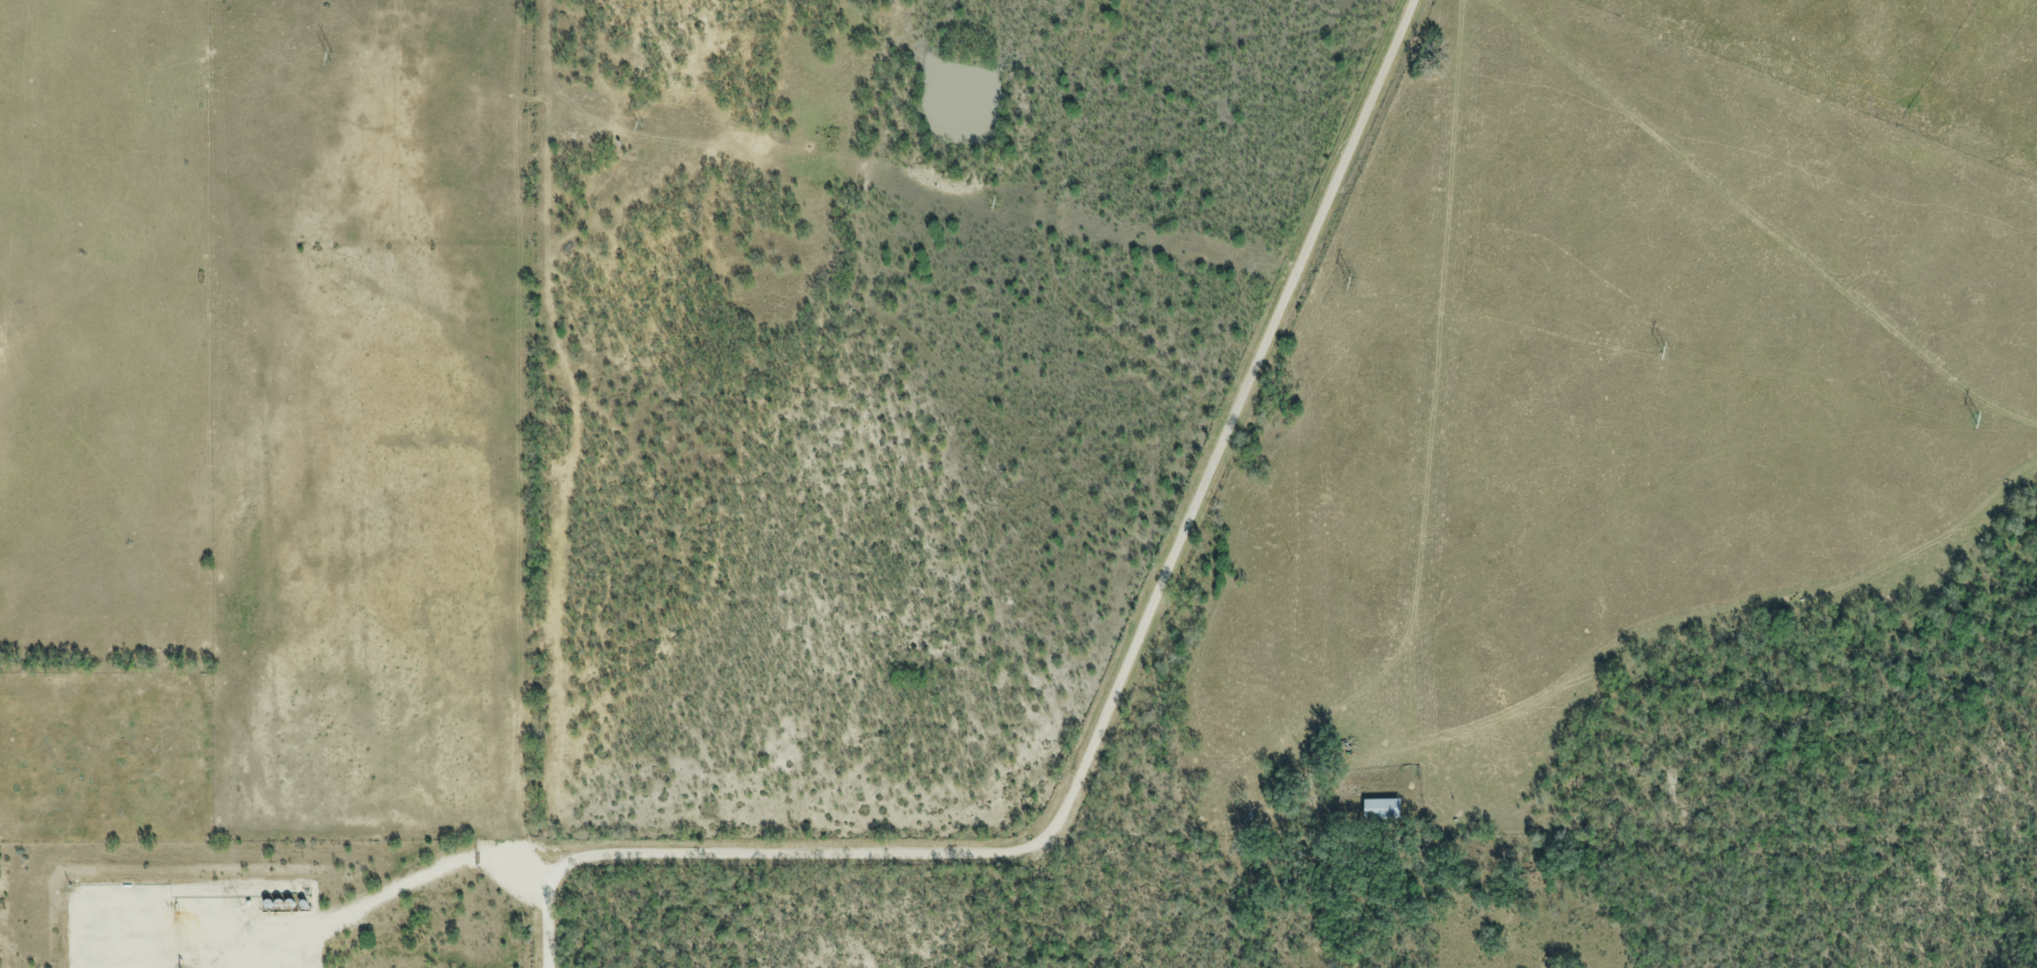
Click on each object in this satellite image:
power tower: (331, 52)
power tower: (641, 120)
power tower: (995, 198)
power tower: (1349, 277)
power tower: (1663, 346)
power tower: (1975, 415)
road: (1120, 683)
building: (1378, 811)
road: (323, 921)

